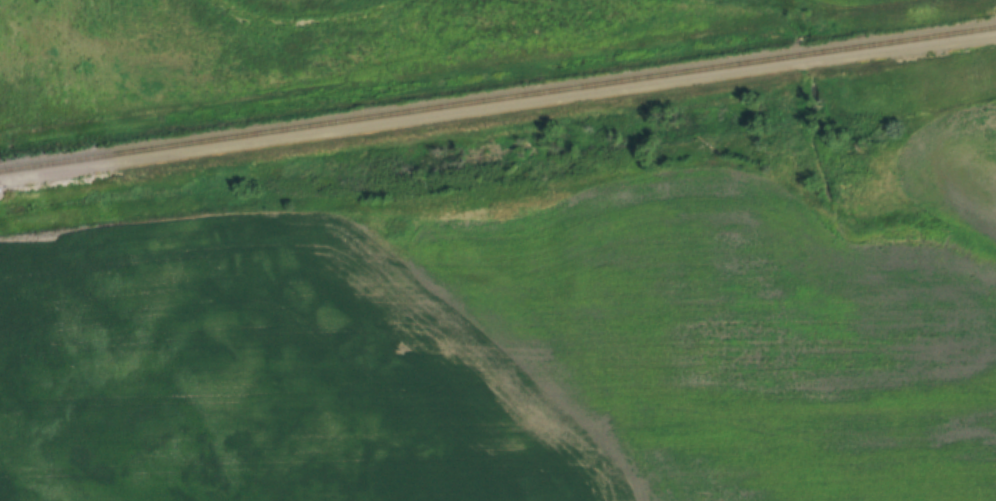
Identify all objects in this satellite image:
railway: (498, 98)

